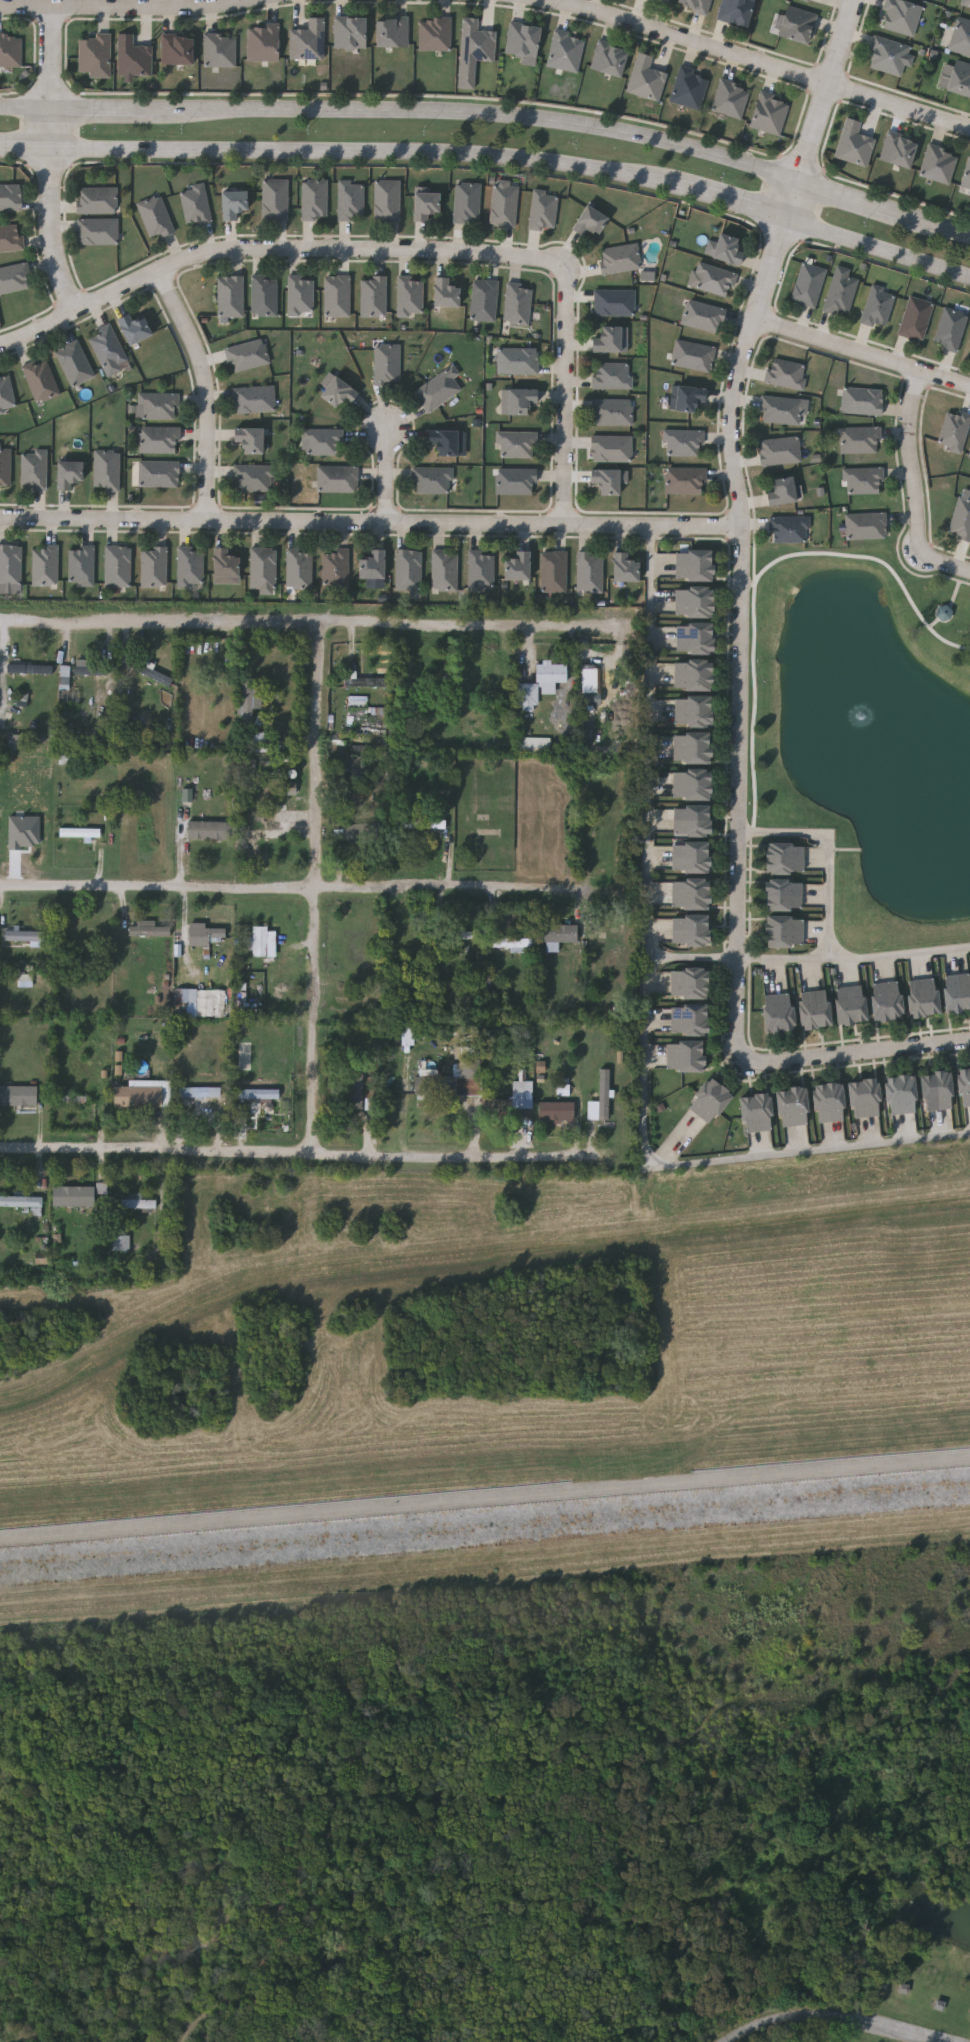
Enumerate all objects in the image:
building: (808, 0)
building: (664, 1)
building: (966, 3)
building: (696, 5)
road: (27, 8)
road: (154, 8)
building: (736, 11)
building: (901, 16)
building: (797, 25)
building: (393, 31)
building: (350, 33)
building: (436, 34)
building: (961, 37)
road: (679, 40)
building: (308, 41)
building: (523, 42)
building: (263, 43)
building: (475, 49)
building: (11, 50)
building: (177, 50)
building: (220, 51)
building: (566, 51)
building: (95, 54)
building: (888, 56)
road: (53, 57)
building: (134, 57)
building: (609, 59)
building: (647, 79)
building: (960, 79)
building: (690, 88)
road: (829, 88)
building: (731, 100)
road: (25, 106)
road: (106, 107)
road: (900, 107)
road: (485, 112)
building: (770, 114)
road: (51, 126)
building: (854, 144)
road: (25, 145)
road: (362, 150)
building: (899, 151)
building: (939, 164)
building: (966, 178)
road: (853, 193)
building: (10, 197)
road: (795, 198)
building: (275, 199)
building: (314, 199)
building: (350, 199)
building: (386, 199)
road: (731, 199)
building: (96, 200)
building: (466, 202)
building: (503, 203)
building: (195, 204)
building: (232, 204)
building: (424, 204)
building: (543, 209)
building: (155, 216)
road: (937, 220)
building: (587, 221)
road: (52, 227)
building: (98, 231)
building: (11, 238)
road: (322, 248)
road: (879, 248)
building: (727, 249)
building: (619, 258)
building: (648, 276)
building: (14, 277)
building: (712, 278)
building: (807, 284)
building: (444, 291)
building: (336, 294)
building: (373, 294)
building: (230, 295)
building: (264, 295)
building: (300, 295)
building: (410, 295)
building: (840, 295)
building: (484, 299)
building: (517, 302)
building: (613, 302)
building: (877, 307)
building: (702, 315)
building: (915, 318)
road: (38, 324)
building: (133, 328)
building: (949, 328)
building: (607, 339)
building: (107, 347)
road: (864, 350)
building: (247, 354)
building: (692, 355)
building: (517, 360)
building: (74, 362)
building: (386, 363)
building: (785, 373)
building: (611, 375)
building: (40, 379)
building: (436, 389)
road: (207, 391)
building: (337, 391)
building: (6, 392)
building: (688, 397)
building: (254, 398)
building: (519, 399)
building: (861, 400)
road: (566, 404)
building: (159, 405)
building: (782, 409)
building: (611, 411)
building: (953, 430)
building: (159, 439)
building: (248, 439)
building: (860, 439)
building: (321, 441)
building: (442, 441)
building: (683, 442)
building: (517, 443)
building: (610, 447)
building: (779, 451)
building: (969, 455)
road: (913, 462)
building: (5, 468)
building: (33, 468)
building: (106, 469)
building: (67, 473)
building: (158, 473)
road: (387, 474)
building: (254, 477)
building: (337, 478)
building: (432, 479)
building: (685, 479)
building: (516, 480)
building: (604, 481)
building: (863, 481)
building: (780, 490)
building: (960, 520)
road: (371, 521)
building: (865, 525)
building: (788, 529)
building: (223, 562)
building: (11, 564)
building: (45, 564)
building: (372, 564)
road: (947, 564)
building: (81, 565)
building: (117, 565)
building: (693, 565)
building: (154, 566)
building: (190, 566)
building: (517, 566)
building: (623, 566)
building: (299, 568)
building: (335, 568)
building: (262, 569)
building: (408, 569)
building: (444, 570)
building: (481, 570)
building: (553, 571)
building: (589, 571)
building: (693, 602)
road: (308, 617)
road: (741, 634)
building: (694, 639)
building: (126, 655)
building: (31, 667)
building: (91, 667)
building: (551, 671)
building: (154, 674)
building: (693, 676)
building: (367, 681)
building: (66, 685)
building: (590, 687)
building: (527, 696)
building: (26, 698)
building: (250, 699)
building: (693, 712)
building: (259, 739)
building: (21, 741)
building: (692, 749)
building: (288, 786)
building: (692, 786)
building: (691, 821)
building: (421, 823)
building: (268, 825)
building: (209, 829)
building: (25, 832)
building: (79, 832)
building: (361, 833)
road: (832, 854)
building: (690, 858)
building: (784, 859)
road: (320, 885)
road: (284, 886)
building: (690, 895)
building: (783, 896)
building: (148, 928)
building: (690, 931)
building: (204, 933)
building: (560, 933)
building: (784, 933)
building: (24, 934)
building: (262, 940)
building: (513, 942)
road: (694, 957)
road: (854, 963)
building: (27, 980)
building: (689, 984)
building: (957, 993)
building: (187, 999)
building: (923, 999)
building: (886, 1002)
road: (648, 1005)
building: (850, 1005)
building: (815, 1010)
building: (778, 1014)
building: (689, 1021)
building: (409, 1036)
road: (857, 1052)
building: (685, 1057)
building: (542, 1066)
building: (449, 1081)
building: (353, 1087)
building: (965, 1087)
building: (199, 1091)
building: (937, 1091)
building: (142, 1093)
building: (259, 1093)
building: (18, 1095)
building: (901, 1095)
building: (600, 1098)
building: (865, 1099)
building: (709, 1101)
building: (512, 1102)
building: (829, 1103)
road: (405, 1104)
building: (792, 1108)
building: (556, 1110)
building: (756, 1114)
road: (301, 1151)
building: (73, 1195)
building: (137, 1200)
building: (21, 1202)
building: (124, 1240)
road: (484, 1497)
park: (496, 1811)
road: (828, 2019)

